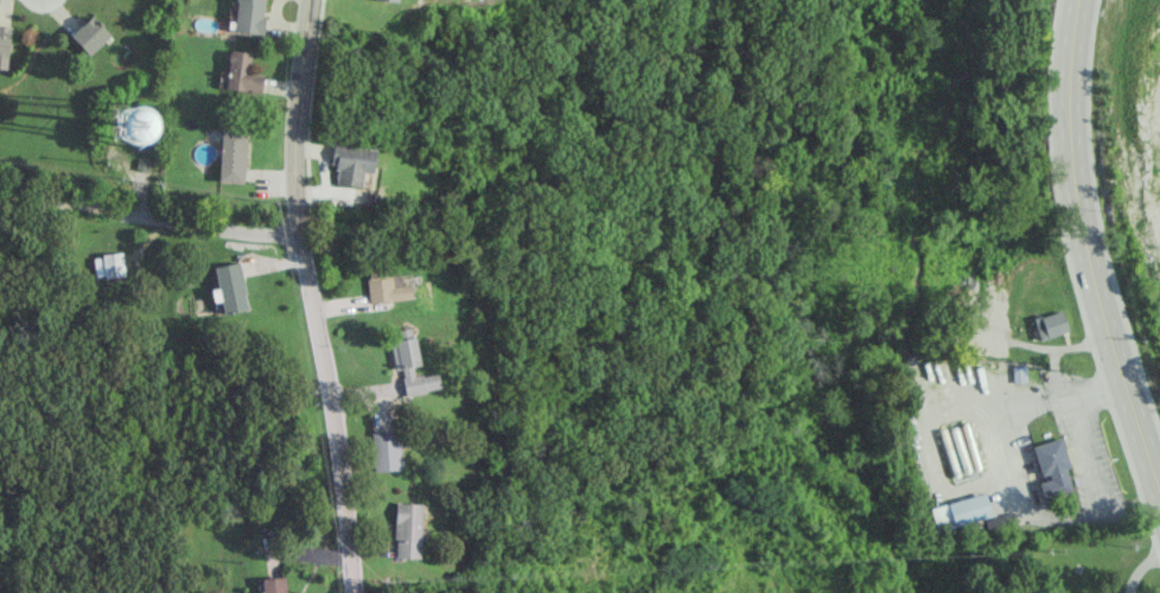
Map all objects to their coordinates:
building: (390, 0)
building: (249, 17)
building: (4, 45)
building: (241, 74)
building: (133, 125)
building: (231, 154)
building: (352, 162)
road: (206, 228)
road: (1085, 251)
building: (385, 285)
building: (230, 287)
road: (310, 296)
building: (1050, 325)
building: (412, 366)
building: (385, 451)
building: (1052, 467)
building: (960, 512)
building: (407, 530)
road: (1140, 566)
building: (274, 585)

